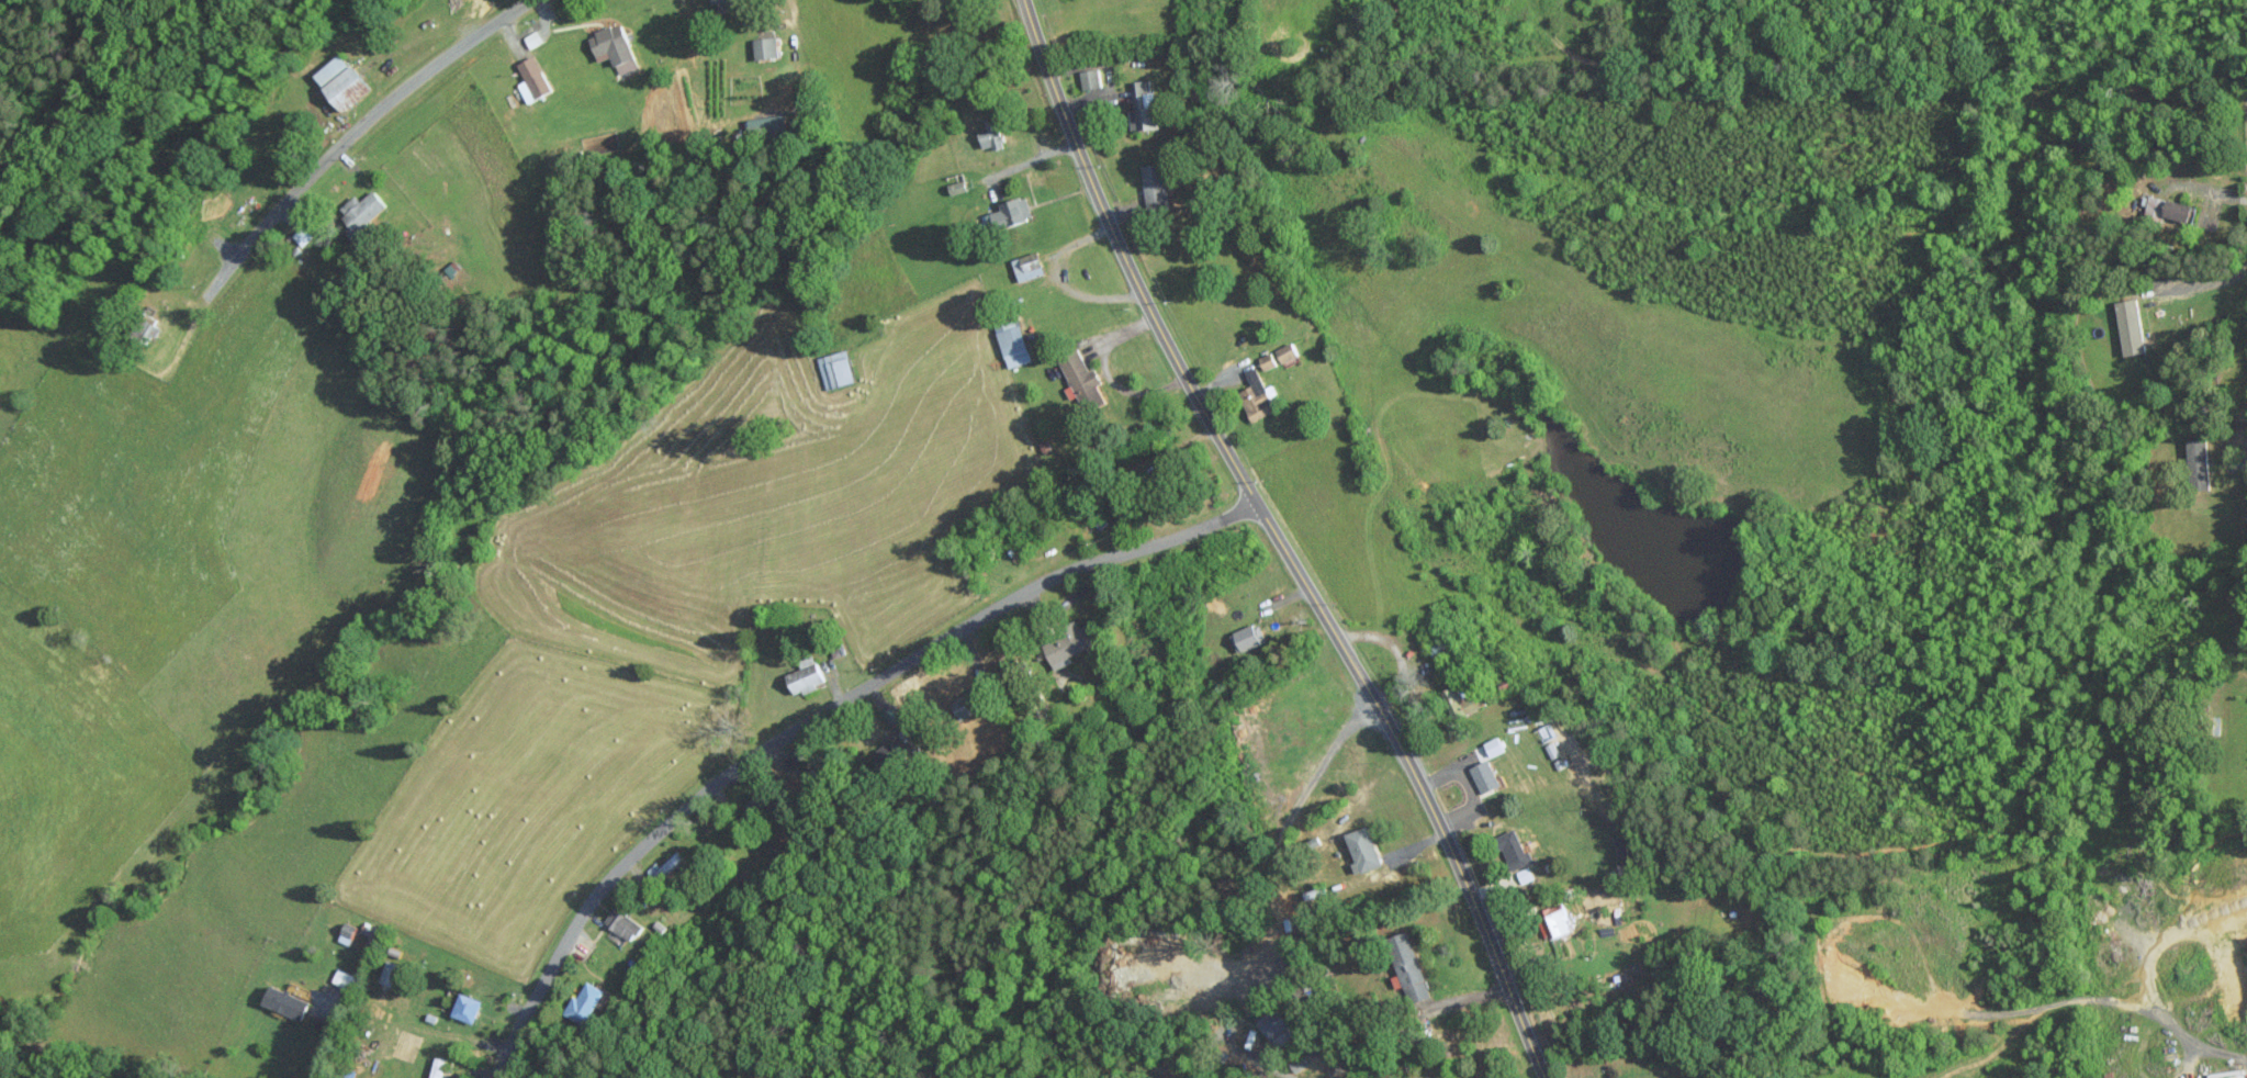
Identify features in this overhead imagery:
building: (722, 1)
building: (533, 37)
building: (614, 46)
building: (766, 46)
building: (1089, 77)
building: (533, 79)
building: (339, 81)
building: (1143, 104)
building: (990, 134)
road: (341, 141)
building: (1155, 182)
building: (2168, 209)
building: (1010, 212)
building: (360, 213)
building: (1027, 266)
building: (2132, 326)
building: (1012, 341)
building: (1287, 352)
building: (1268, 360)
building: (836, 368)
building: (1082, 380)
building: (1256, 395)
building: (2201, 462)
road: (1279, 540)
building: (1247, 637)
building: (1071, 643)
building: (806, 675)
road: (2167, 686)
building: (1456, 701)
road: (817, 718)
building: (1490, 749)
building: (887, 754)
building: (1486, 775)
building: (1514, 849)
building: (1364, 850)
building: (1525, 874)
building: (623, 923)
building: (1555, 923)
building: (348, 933)
building: (372, 933)
building: (1409, 967)
building: (387, 975)
building: (345, 979)
building: (287, 1002)
building: (467, 1008)
building: (581, 1010)
building: (1277, 1023)
road: (323, 1041)
road: (2238, 1053)
building: (2227, 1074)

